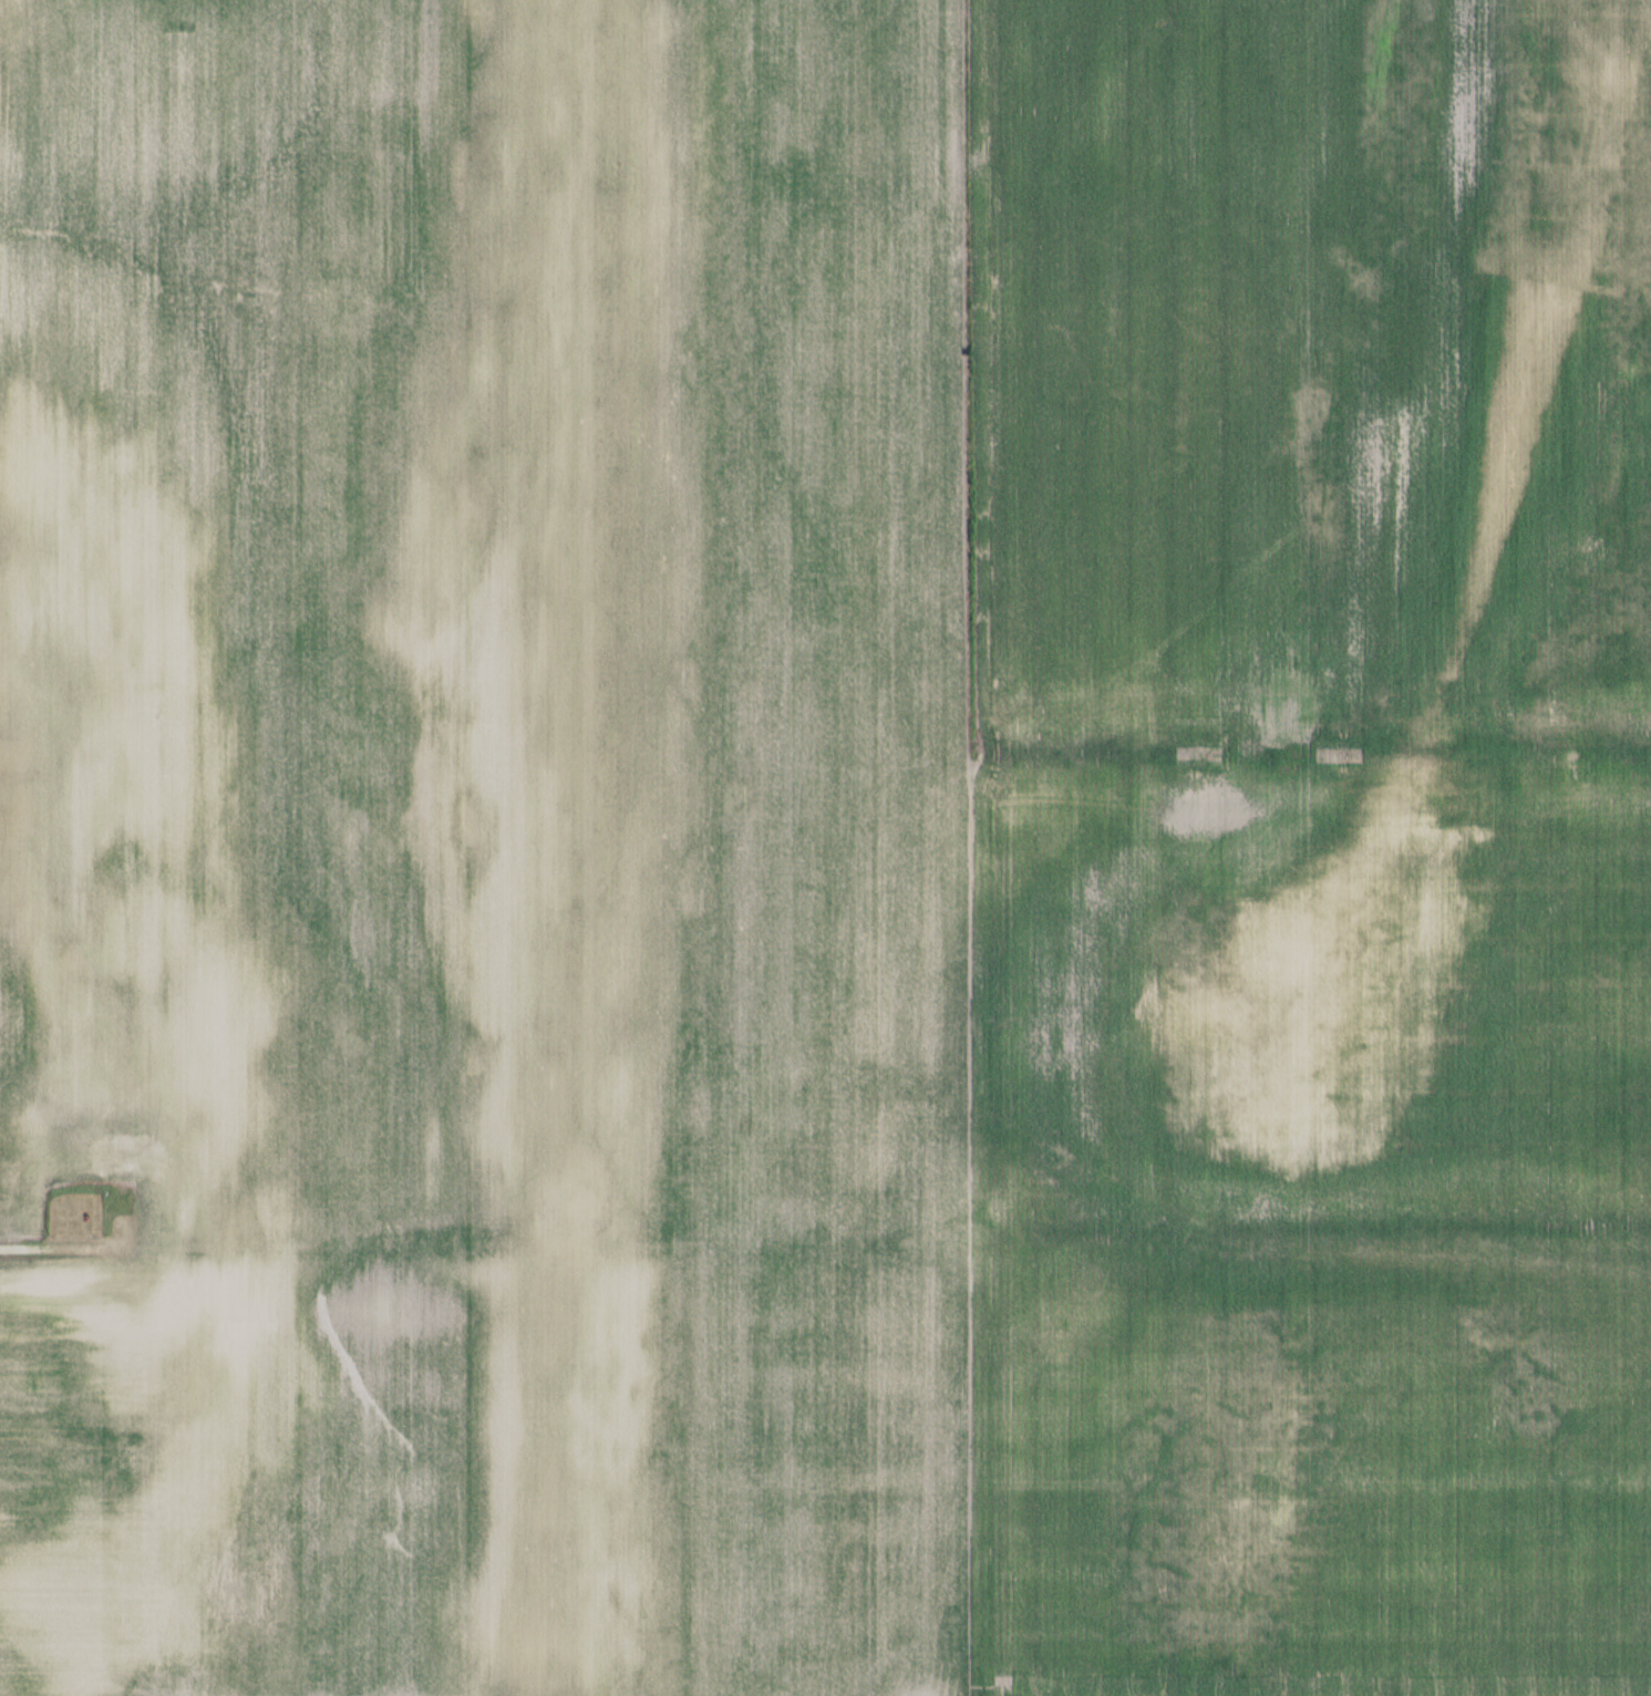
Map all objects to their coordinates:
road: (60, 1250)

